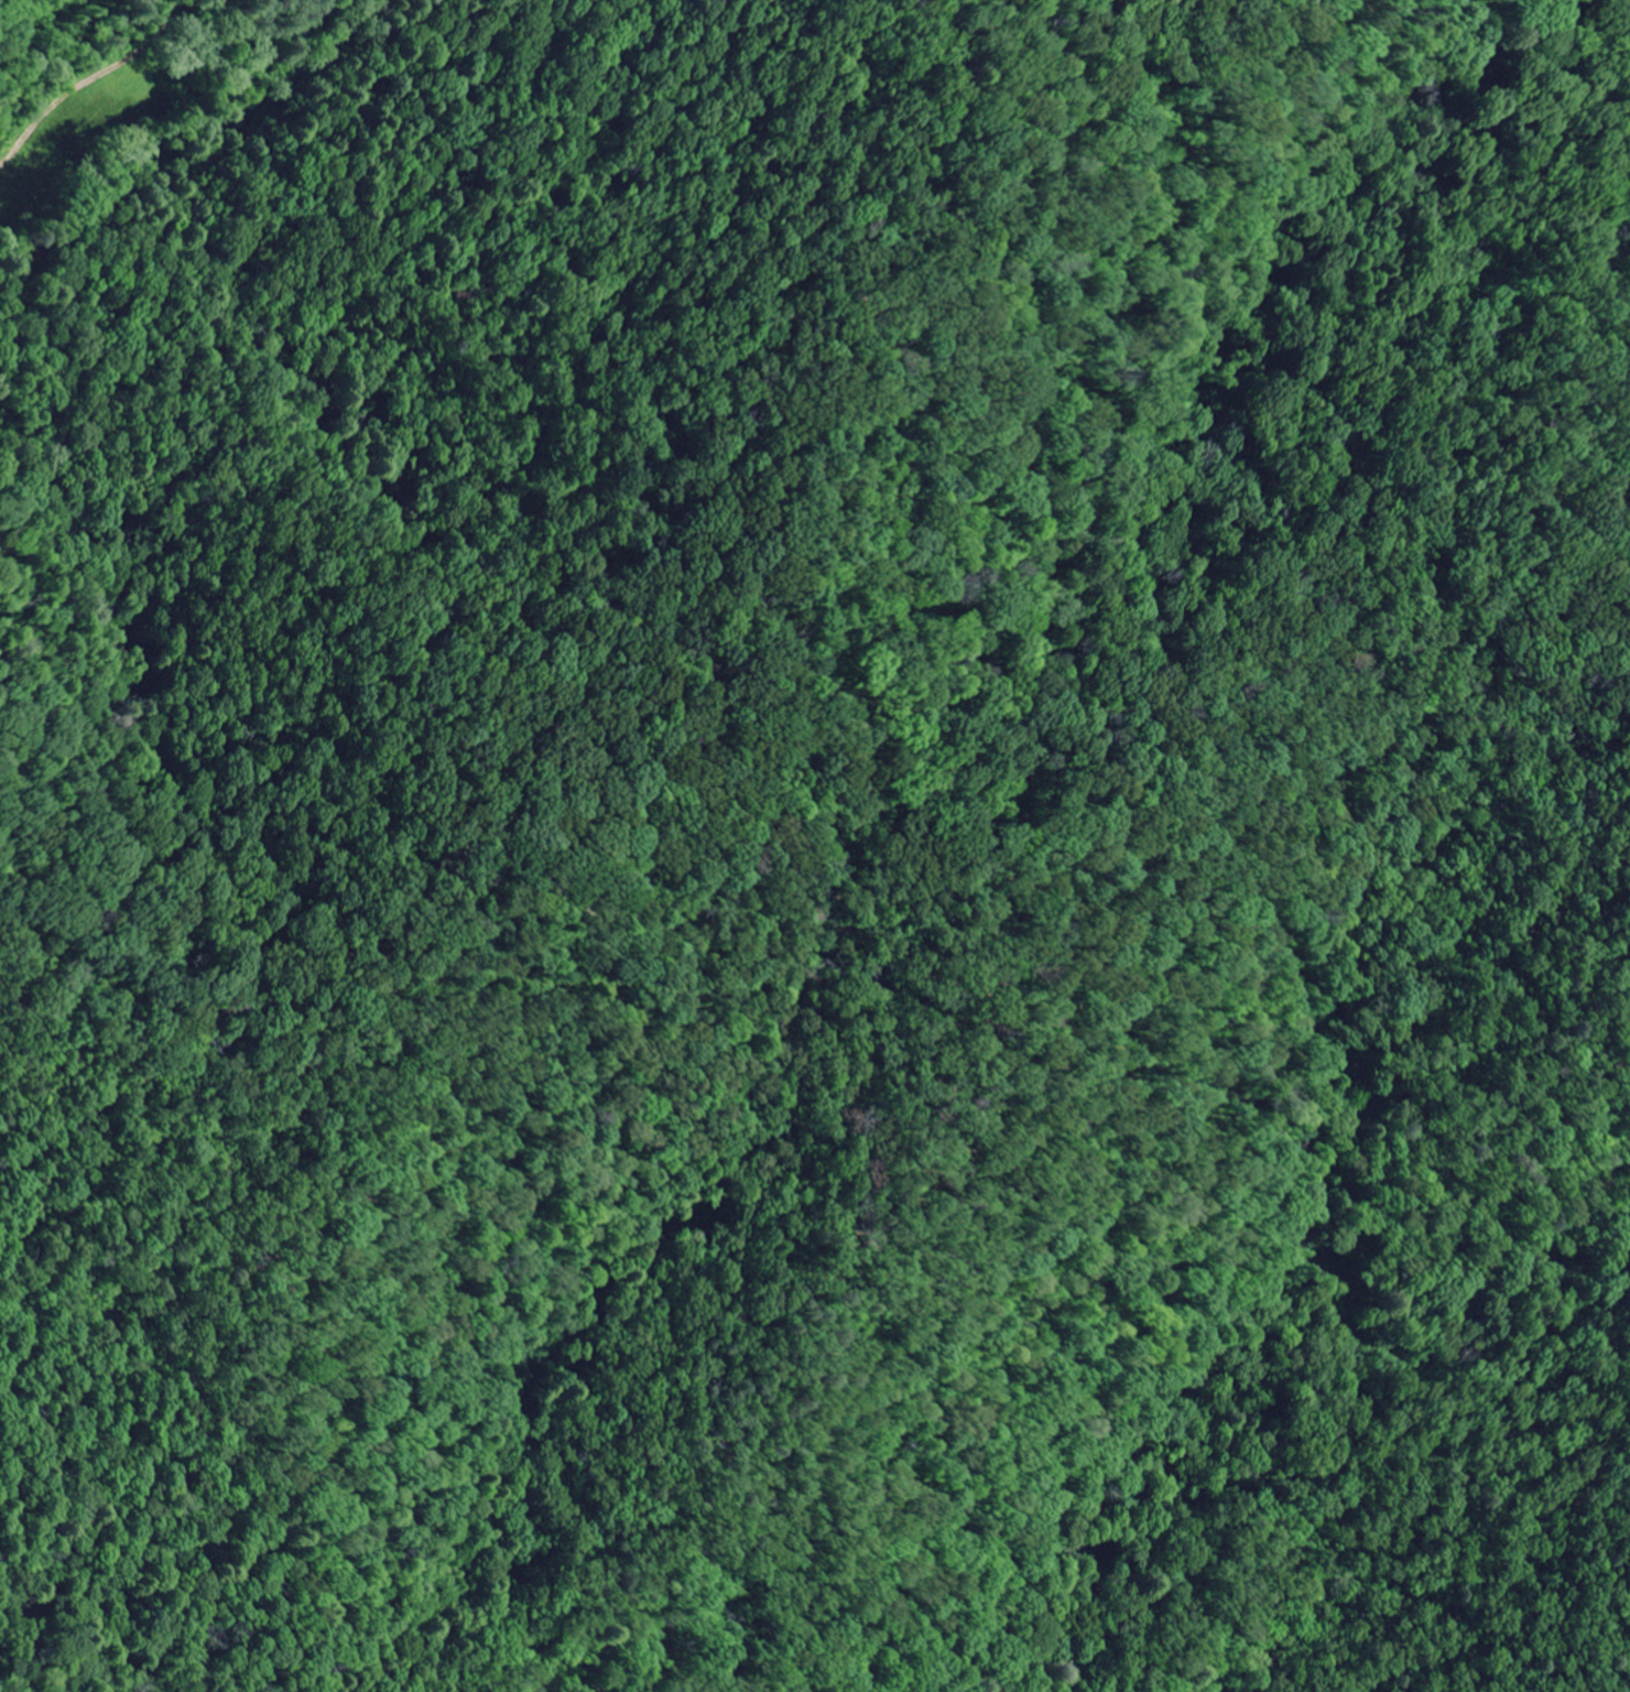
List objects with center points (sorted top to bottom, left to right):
road: (138, 105)

